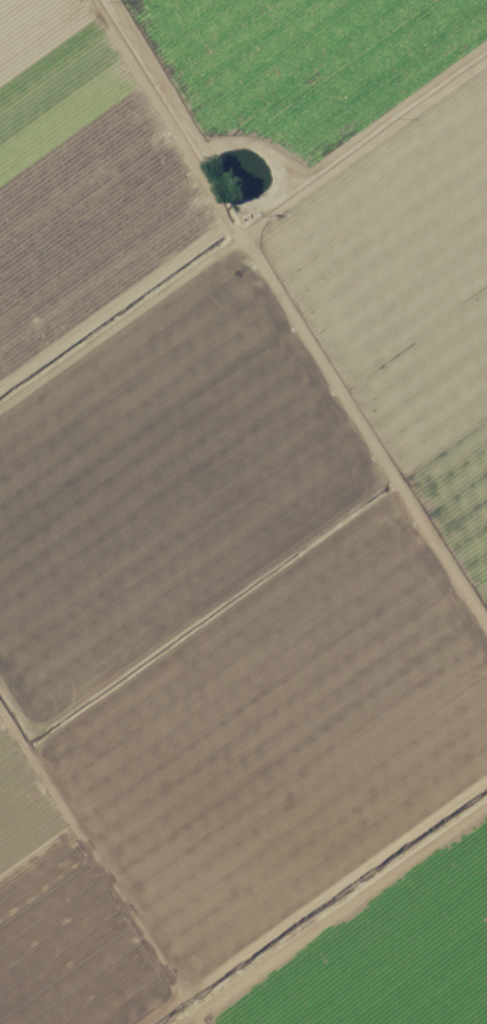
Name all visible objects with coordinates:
road: (287, 331)
crop: (243, 512)

